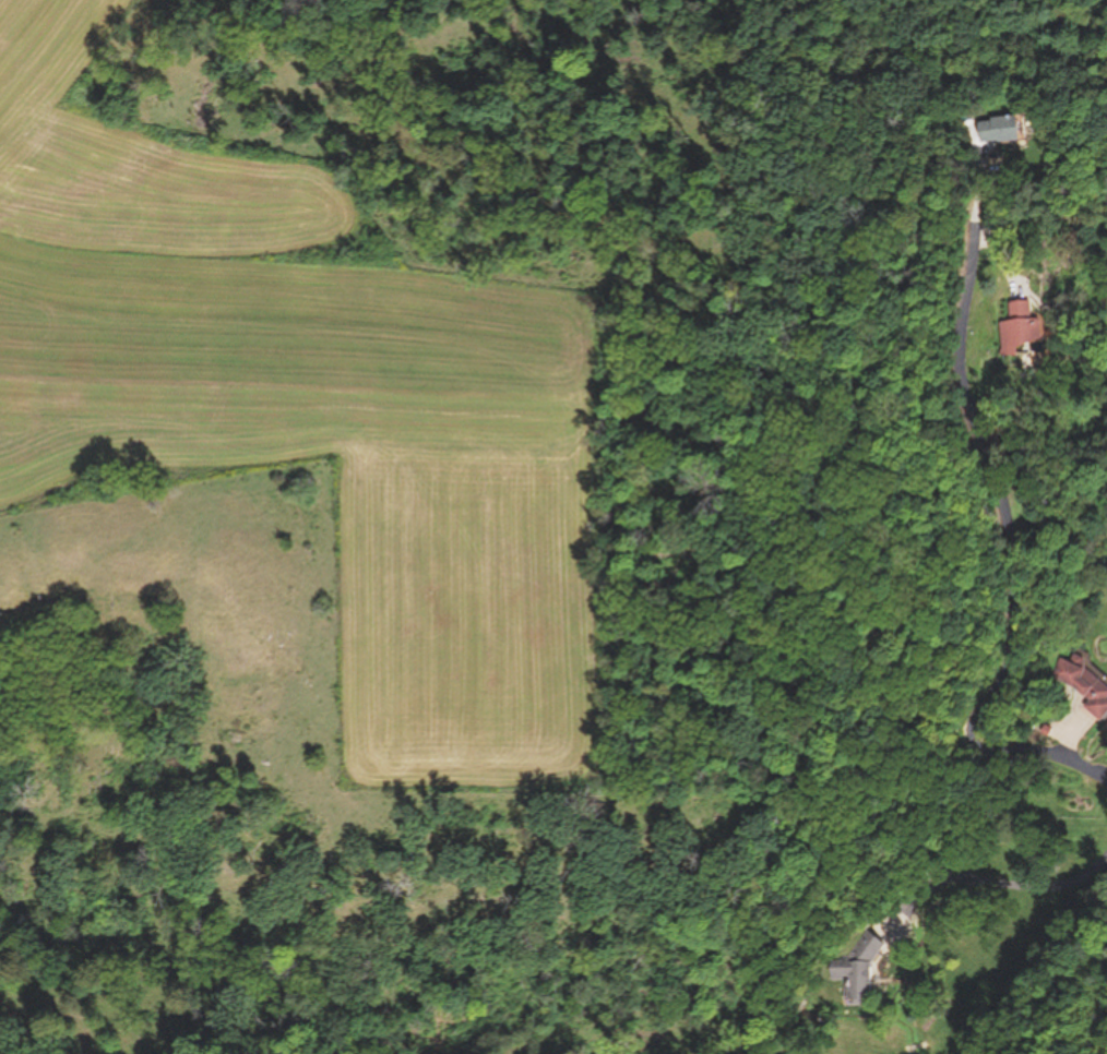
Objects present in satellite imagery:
building: (1005, 131)
road: (1004, 259)
building: (1028, 330)
road: (1007, 514)
building: (1087, 683)
road: (992, 884)
building: (862, 971)

